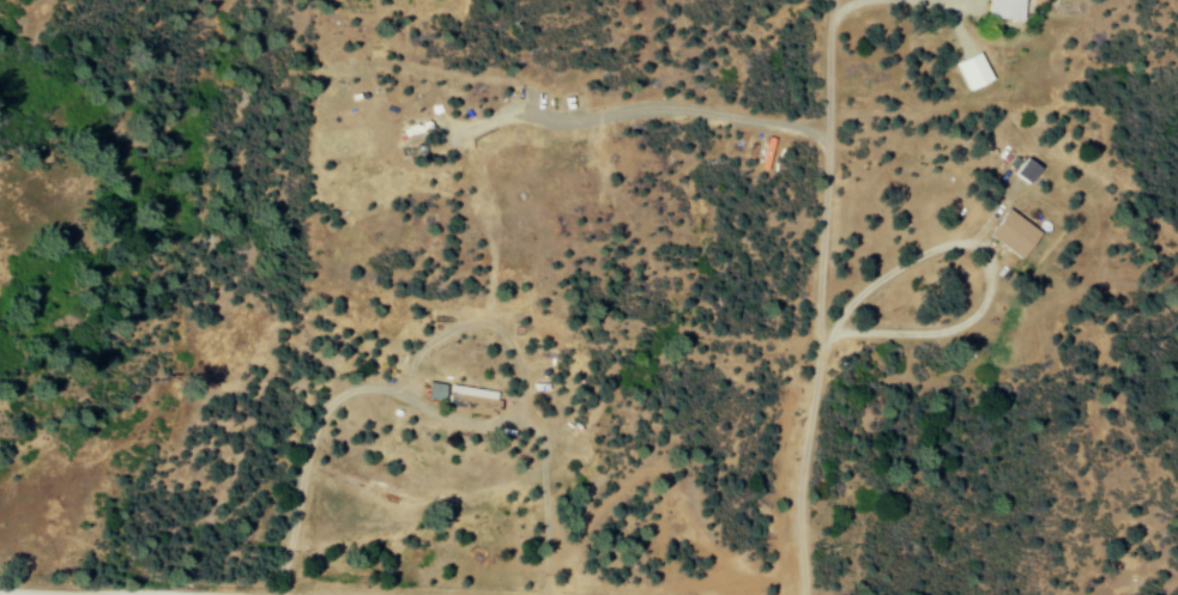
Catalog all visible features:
building: (999, 10)
building: (968, 72)
building: (1007, 235)
road: (977, 250)
road: (816, 297)
building: (454, 399)
road: (197, 594)

